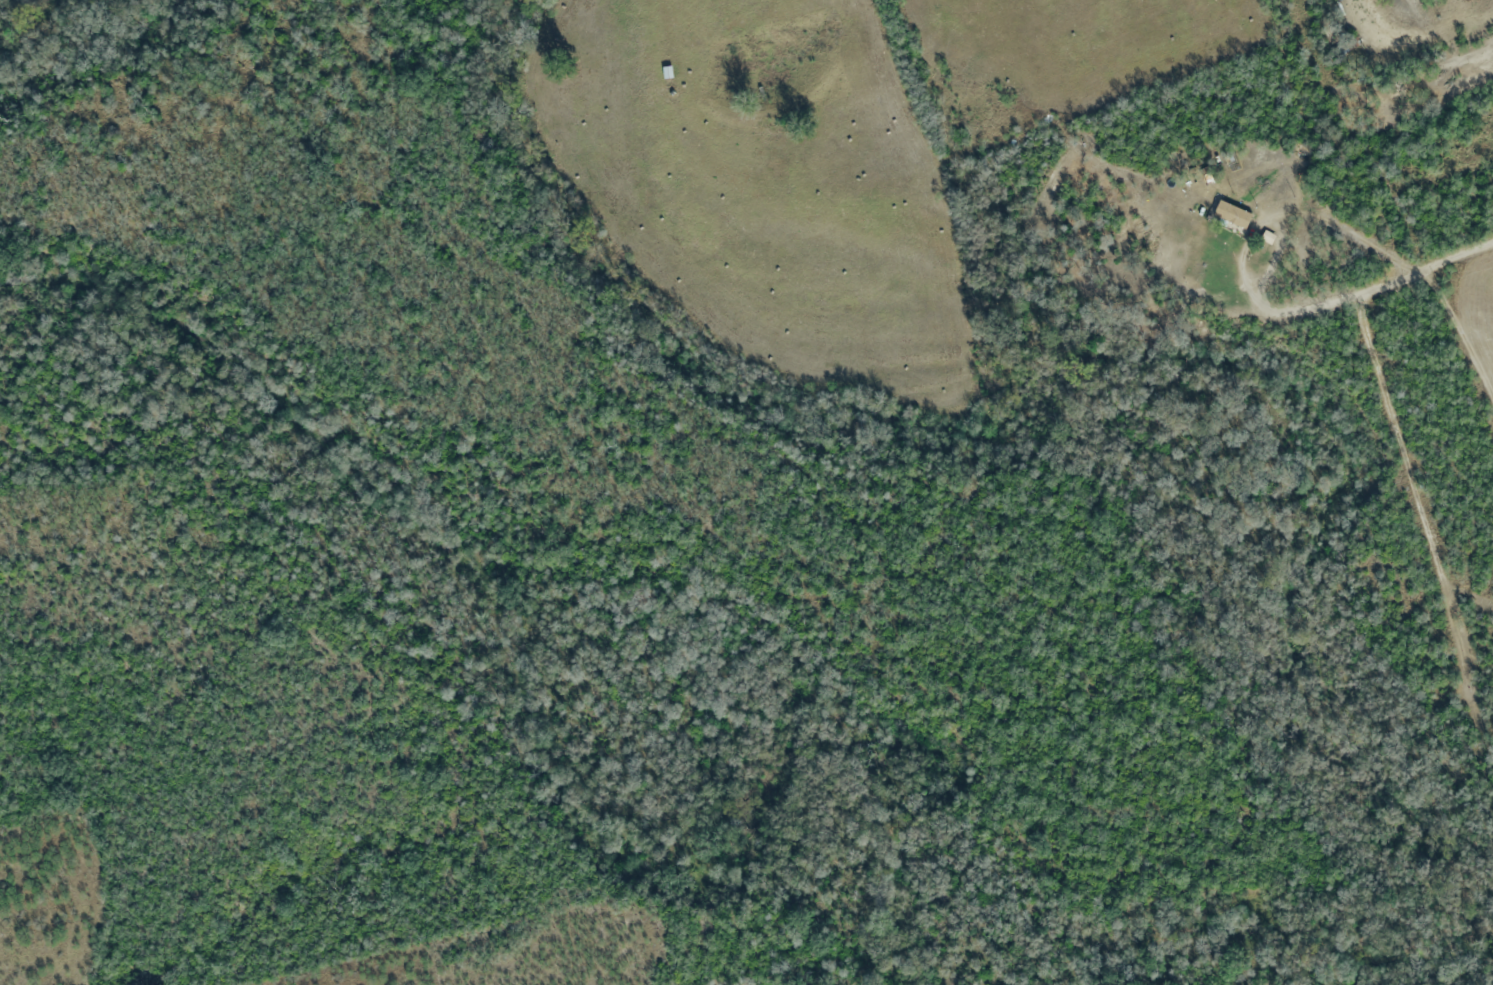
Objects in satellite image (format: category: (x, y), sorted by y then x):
building: (1232, 214)

